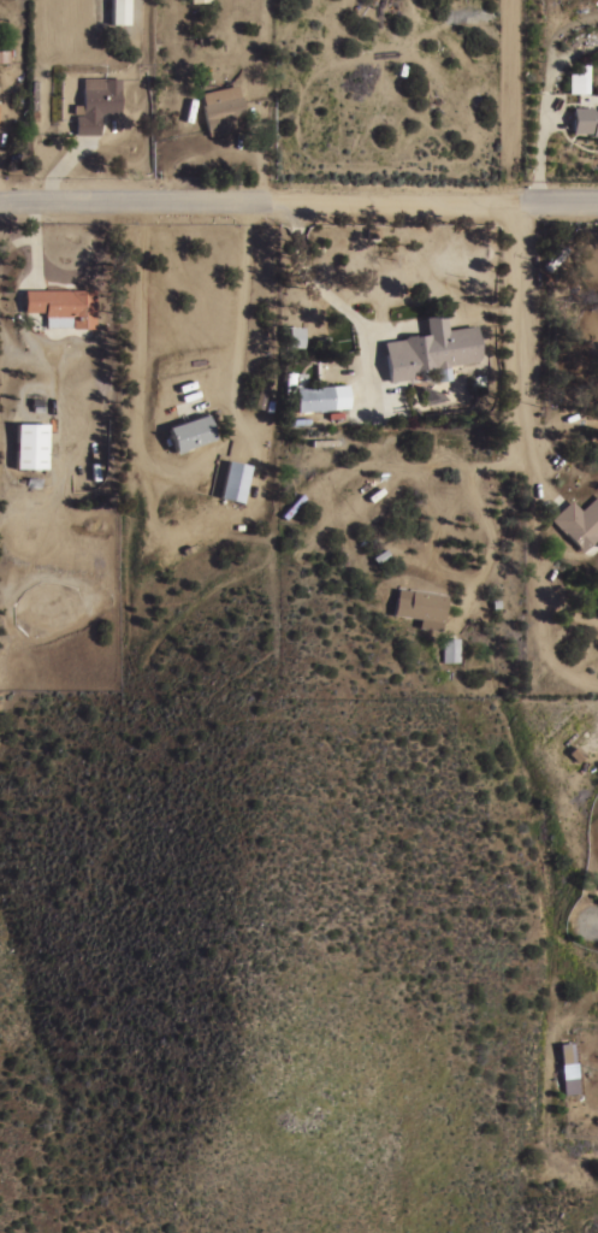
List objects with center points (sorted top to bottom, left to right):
building: (195, 0)
building: (118, 12)
building: (4, 55)
building: (574, 83)
building: (32, 94)
building: (217, 99)
building: (94, 102)
building: (220, 111)
building: (584, 119)
road: (298, 200)
building: (60, 306)
road: (337, 307)
road: (522, 328)
building: (292, 335)
building: (430, 349)
building: (290, 385)
building: (257, 396)
building: (319, 399)
building: (188, 431)
building: (29, 444)
building: (233, 479)
building: (372, 494)
building: (290, 506)
building: (578, 520)
building: (308, 542)
road: (397, 551)
building: (419, 606)
building: (449, 649)
road: (593, 922)
building: (563, 1051)

